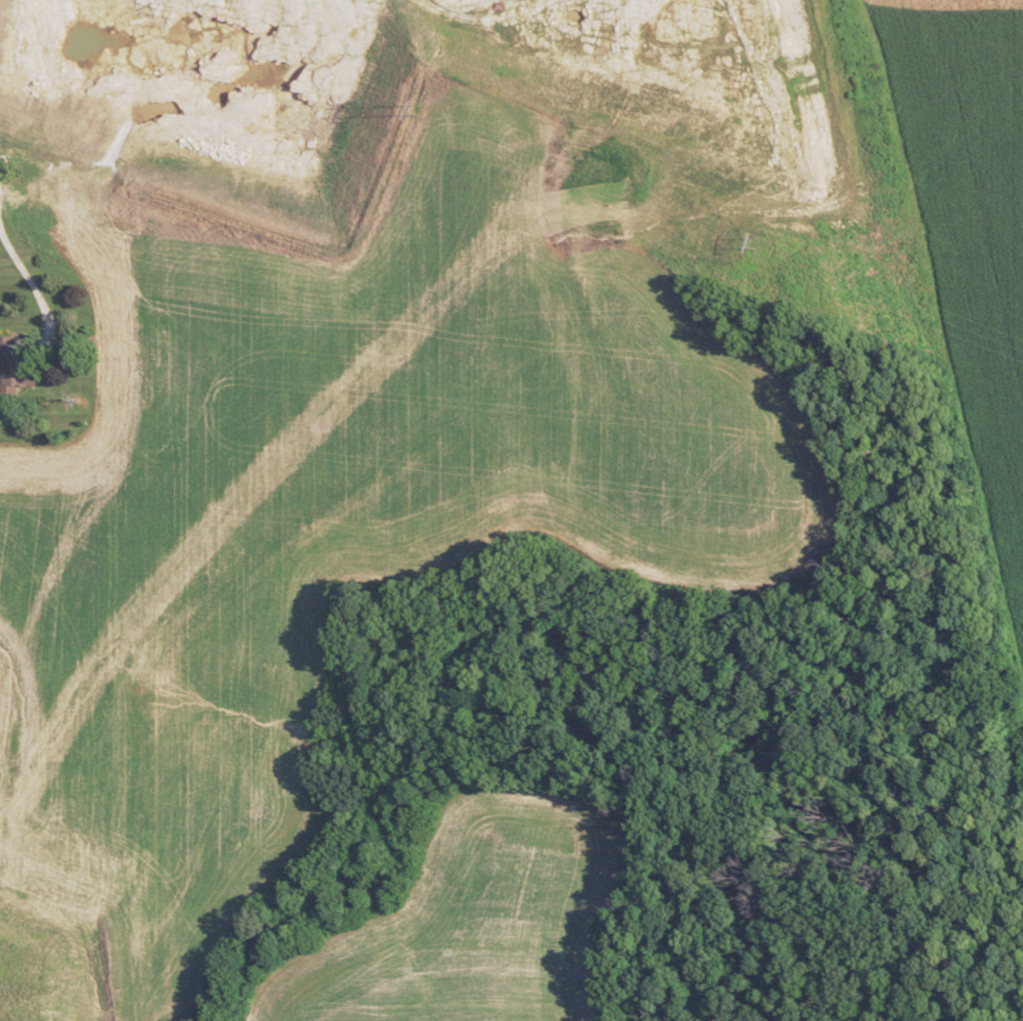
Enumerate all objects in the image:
power tower: (424, 100)
road: (3, 179)
power tower: (789, 247)
building: (18, 361)

